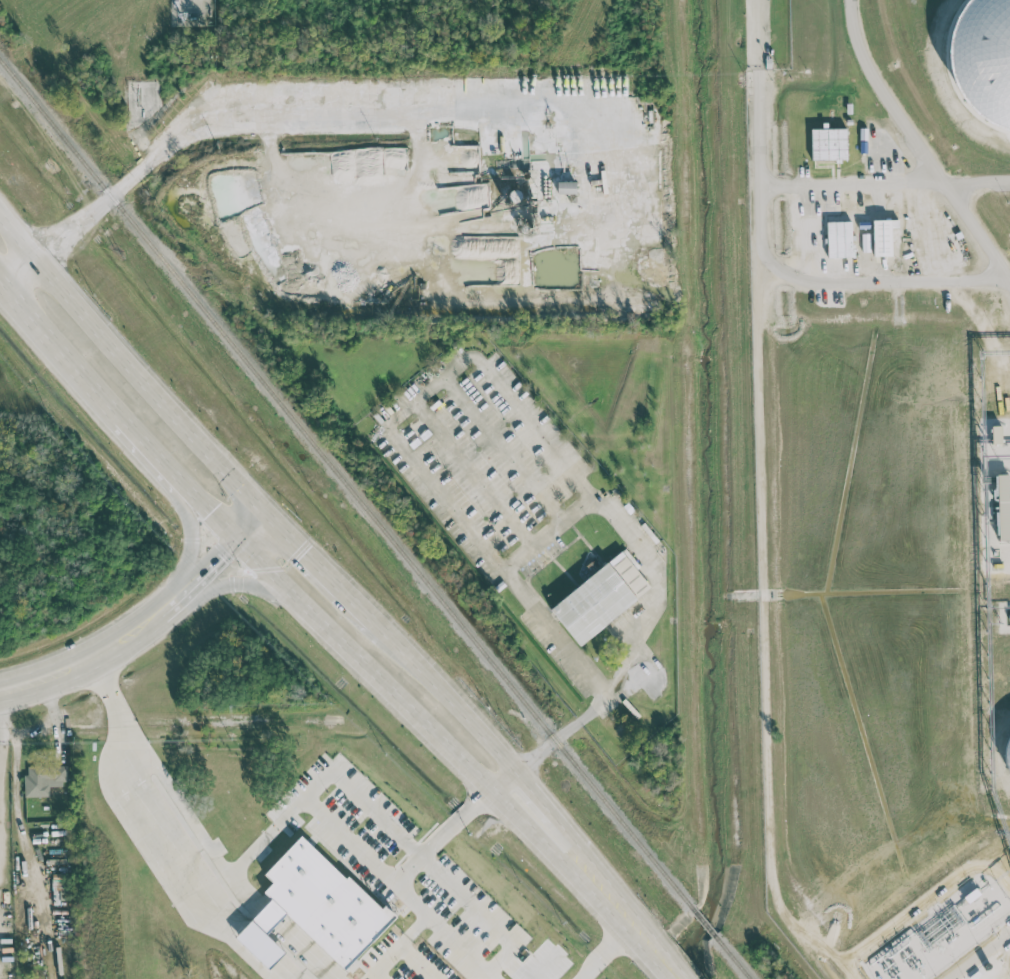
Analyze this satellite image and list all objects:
road: (756, 34)
building: (983, 58)
building: (828, 144)
road: (930, 166)
road: (126, 179)
road: (977, 183)
building: (566, 187)
building: (882, 236)
building: (839, 239)
road: (1006, 274)
road: (931, 280)
road: (616, 298)
road: (61, 341)
road: (130, 363)
road: (419, 395)
road: (501, 444)
road: (150, 445)
road: (762, 449)
parking lot: (481, 451)
road: (468, 469)
railway: (343, 481)
road: (591, 496)
road: (594, 505)
road: (206, 507)
traffic signals: (263, 510)
road: (564, 520)
road: (190, 537)
traffic signals: (236, 538)
road: (531, 548)
road: (303, 551)
road: (220, 553)
road: (237, 584)
building: (598, 599)
road: (363, 613)
road: (332, 632)
road: (392, 642)
road: (95, 657)
road: (593, 679)
road: (51, 703)
road: (457, 708)
road: (578, 720)
road: (195, 721)
road: (54, 729)
building: (1007, 742)
road: (3, 743)
road: (500, 777)
building: (43, 778)
road: (533, 793)
road: (514, 814)
road: (166, 834)
road: (348, 840)
road: (584, 854)
road: (419, 860)
road: (243, 893)
building: (314, 907)
road: (619, 912)
road: (784, 913)
road: (265, 919)
railway: (700, 920)
road: (413, 930)
road: (443, 930)
road: (640, 936)
road: (253, 949)
road: (298, 953)
road: (608, 953)
road: (981, 955)
railway: (731, 958)
road: (384, 961)
road: (661, 961)
road: (418, 962)
road: (277, 972)

